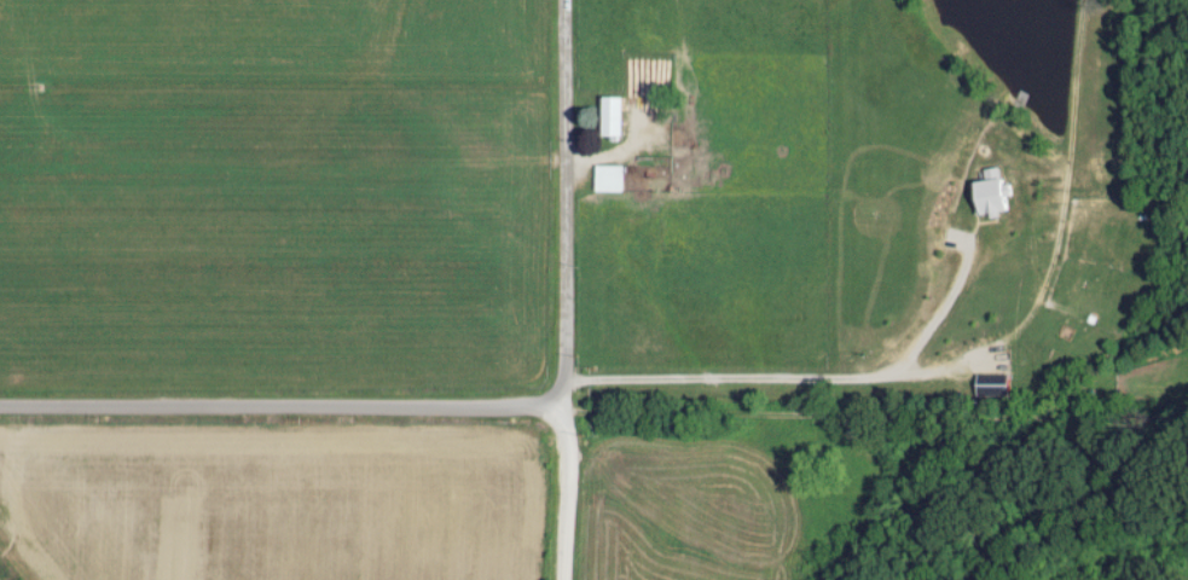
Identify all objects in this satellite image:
building: (619, 115)
road: (567, 205)
road: (283, 410)
road: (877, 411)
road: (561, 495)

